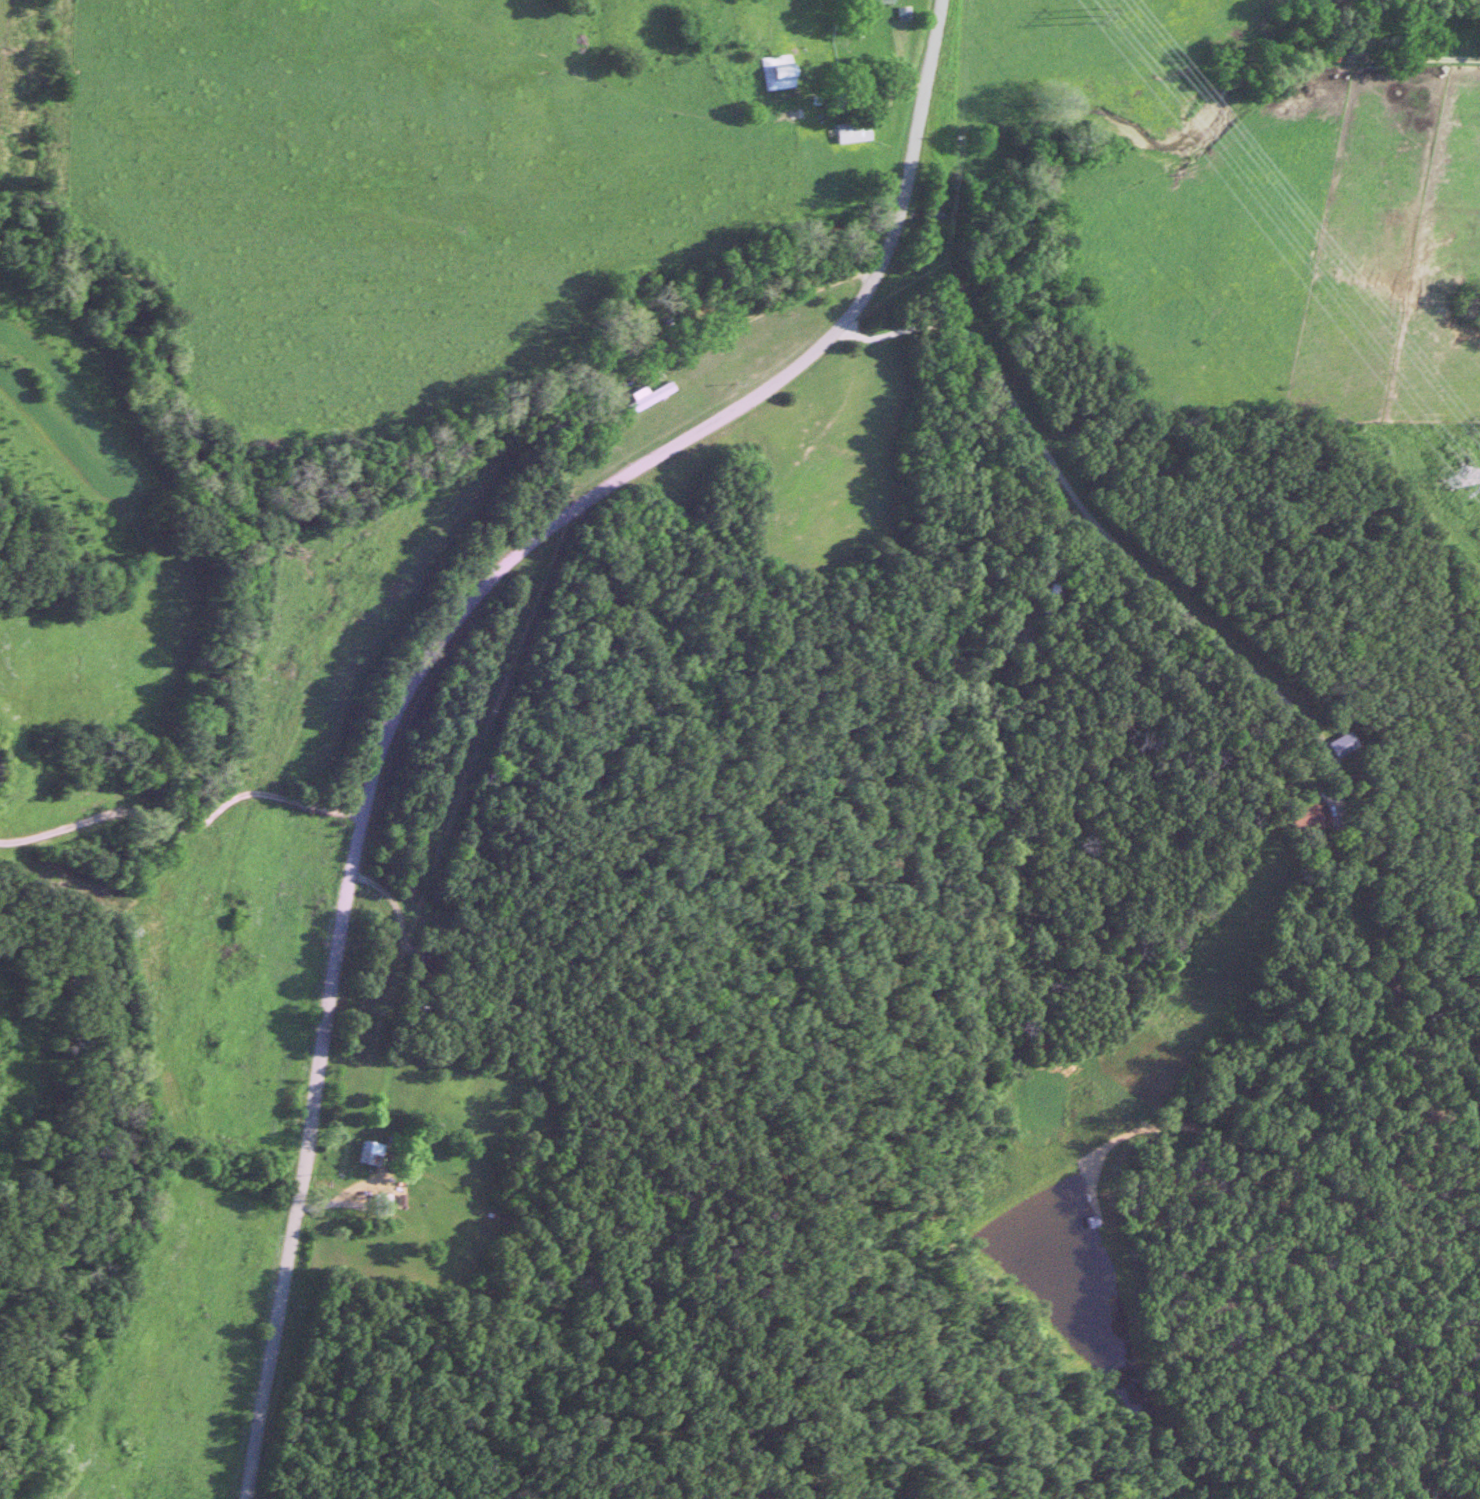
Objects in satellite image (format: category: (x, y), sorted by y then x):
building: (867, 2)
building: (771, 73)
road: (841, 92)
building: (842, 99)
building: (844, 132)
building: (681, 322)
road: (728, 331)
building: (643, 397)
power tower: (1446, 476)
road: (1086, 530)
building: (1047, 600)
road: (429, 651)
building: (1308, 814)
road: (180, 835)
road: (390, 916)
building: (364, 1154)
building: (377, 1205)

